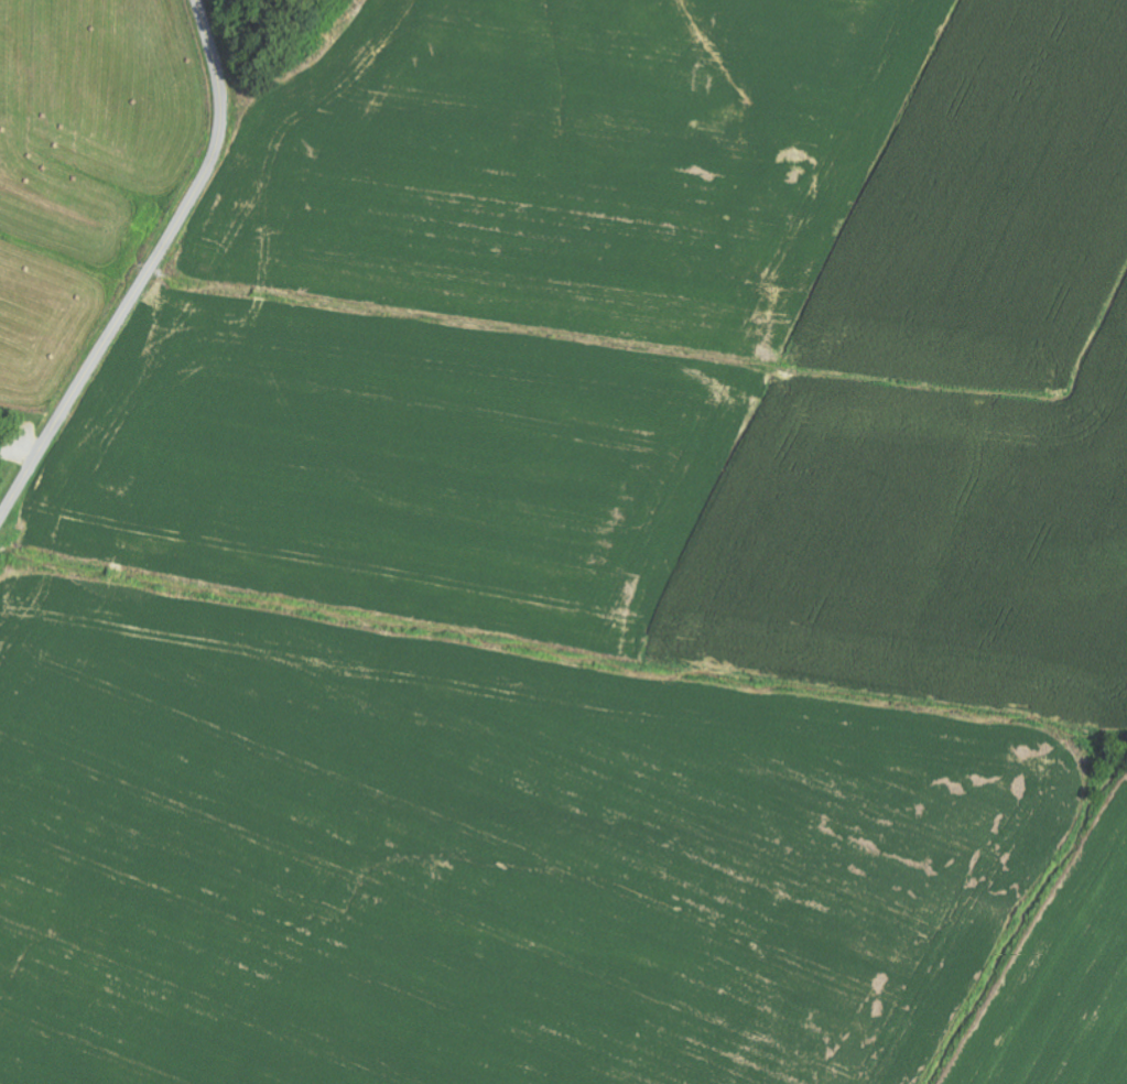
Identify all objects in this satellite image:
road: (149, 272)

